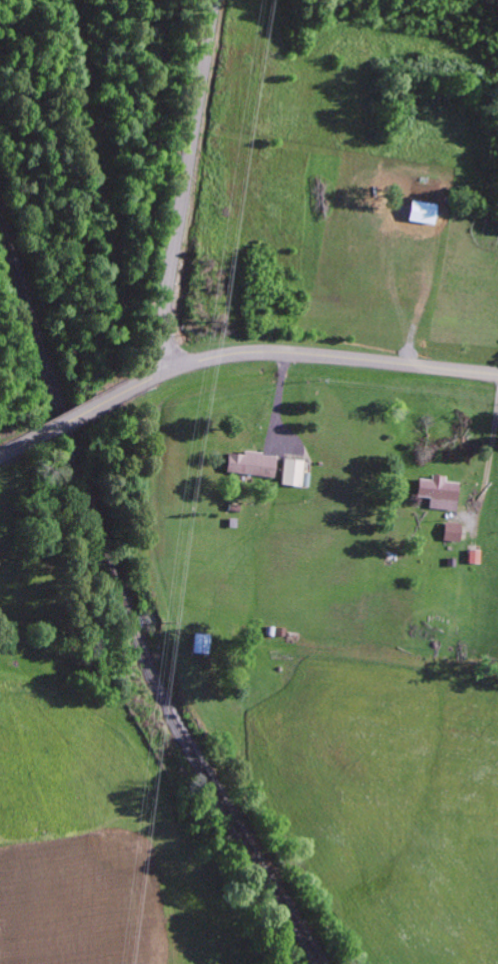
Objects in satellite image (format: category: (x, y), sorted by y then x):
road: (188, 185)
road: (298, 354)
road: (69, 422)
road: (15, 449)
building: (249, 463)
building: (294, 473)
building: (437, 491)
building: (452, 532)
railway: (125, 604)

